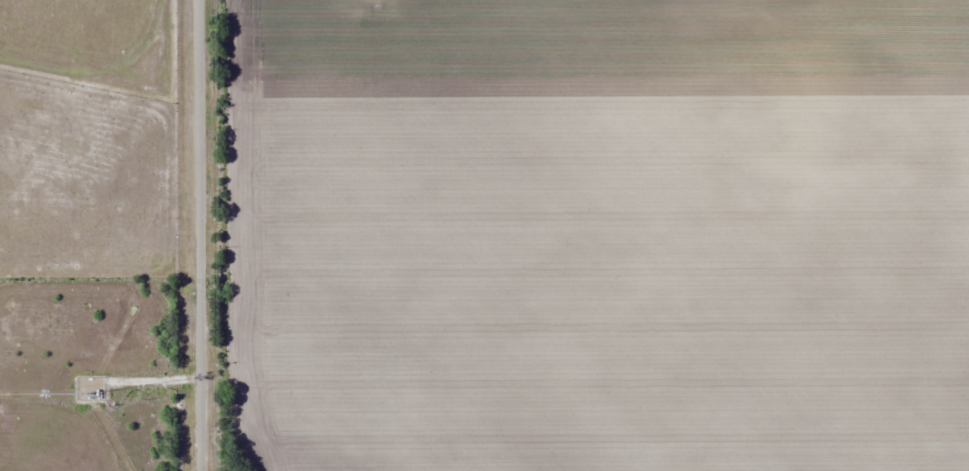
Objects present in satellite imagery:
road: (198, 235)

